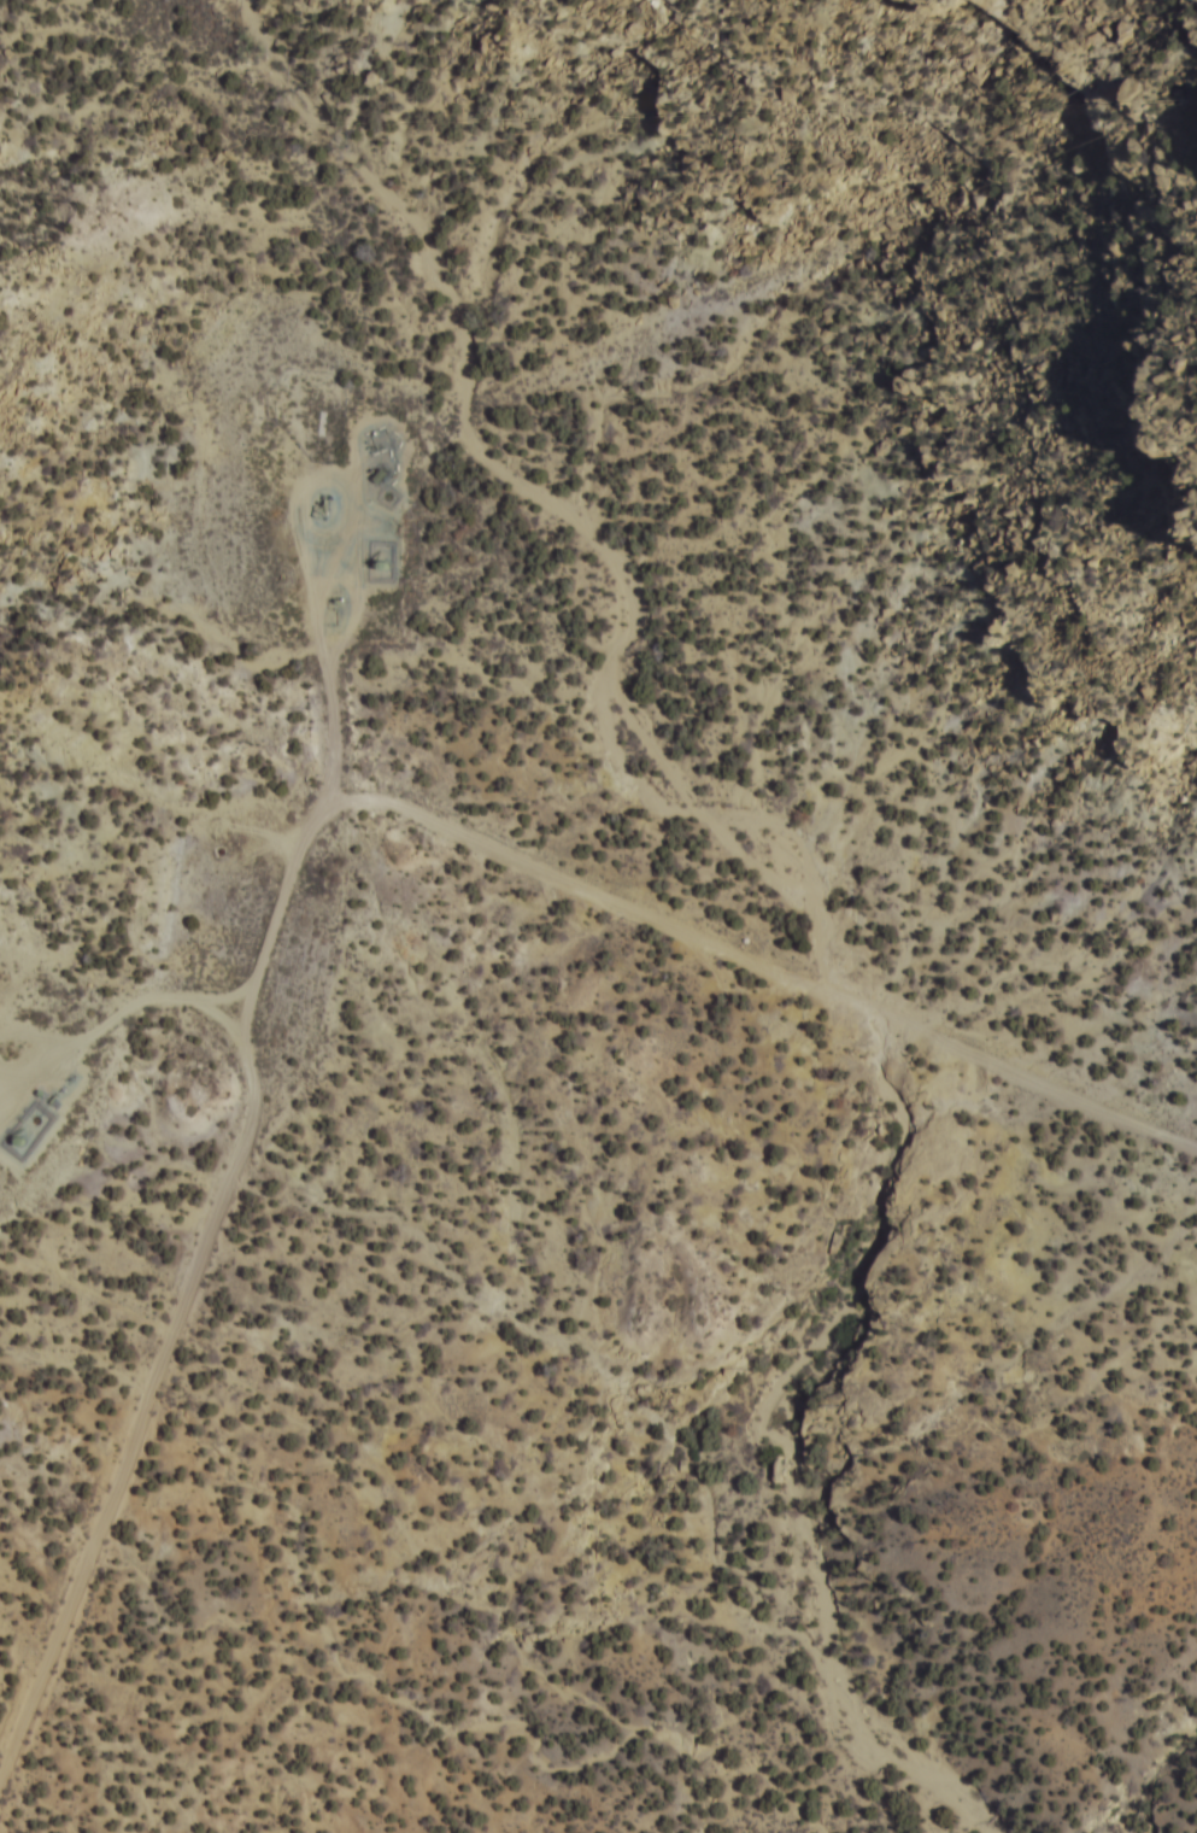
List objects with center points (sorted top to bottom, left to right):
road: (310, 543)
road: (299, 857)
road: (149, 1001)

